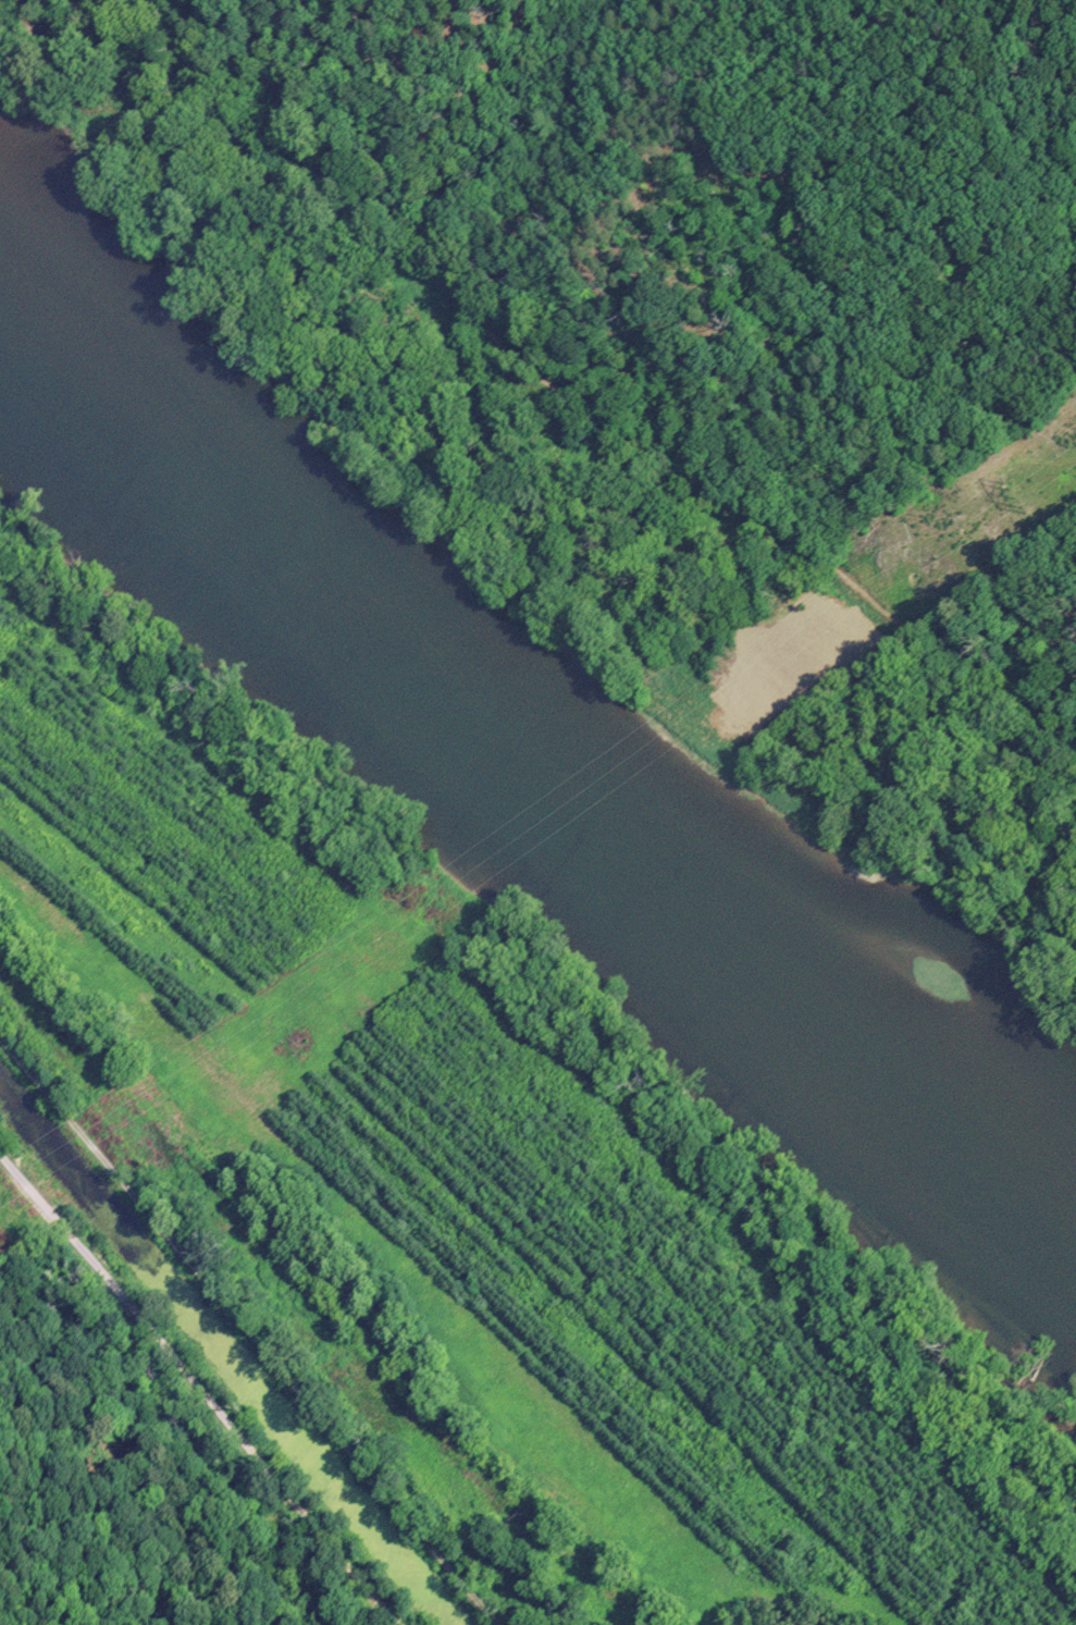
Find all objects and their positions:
power tower: (1016, 498)
river: (520, 792)
road: (248, 1332)
road: (199, 1391)

